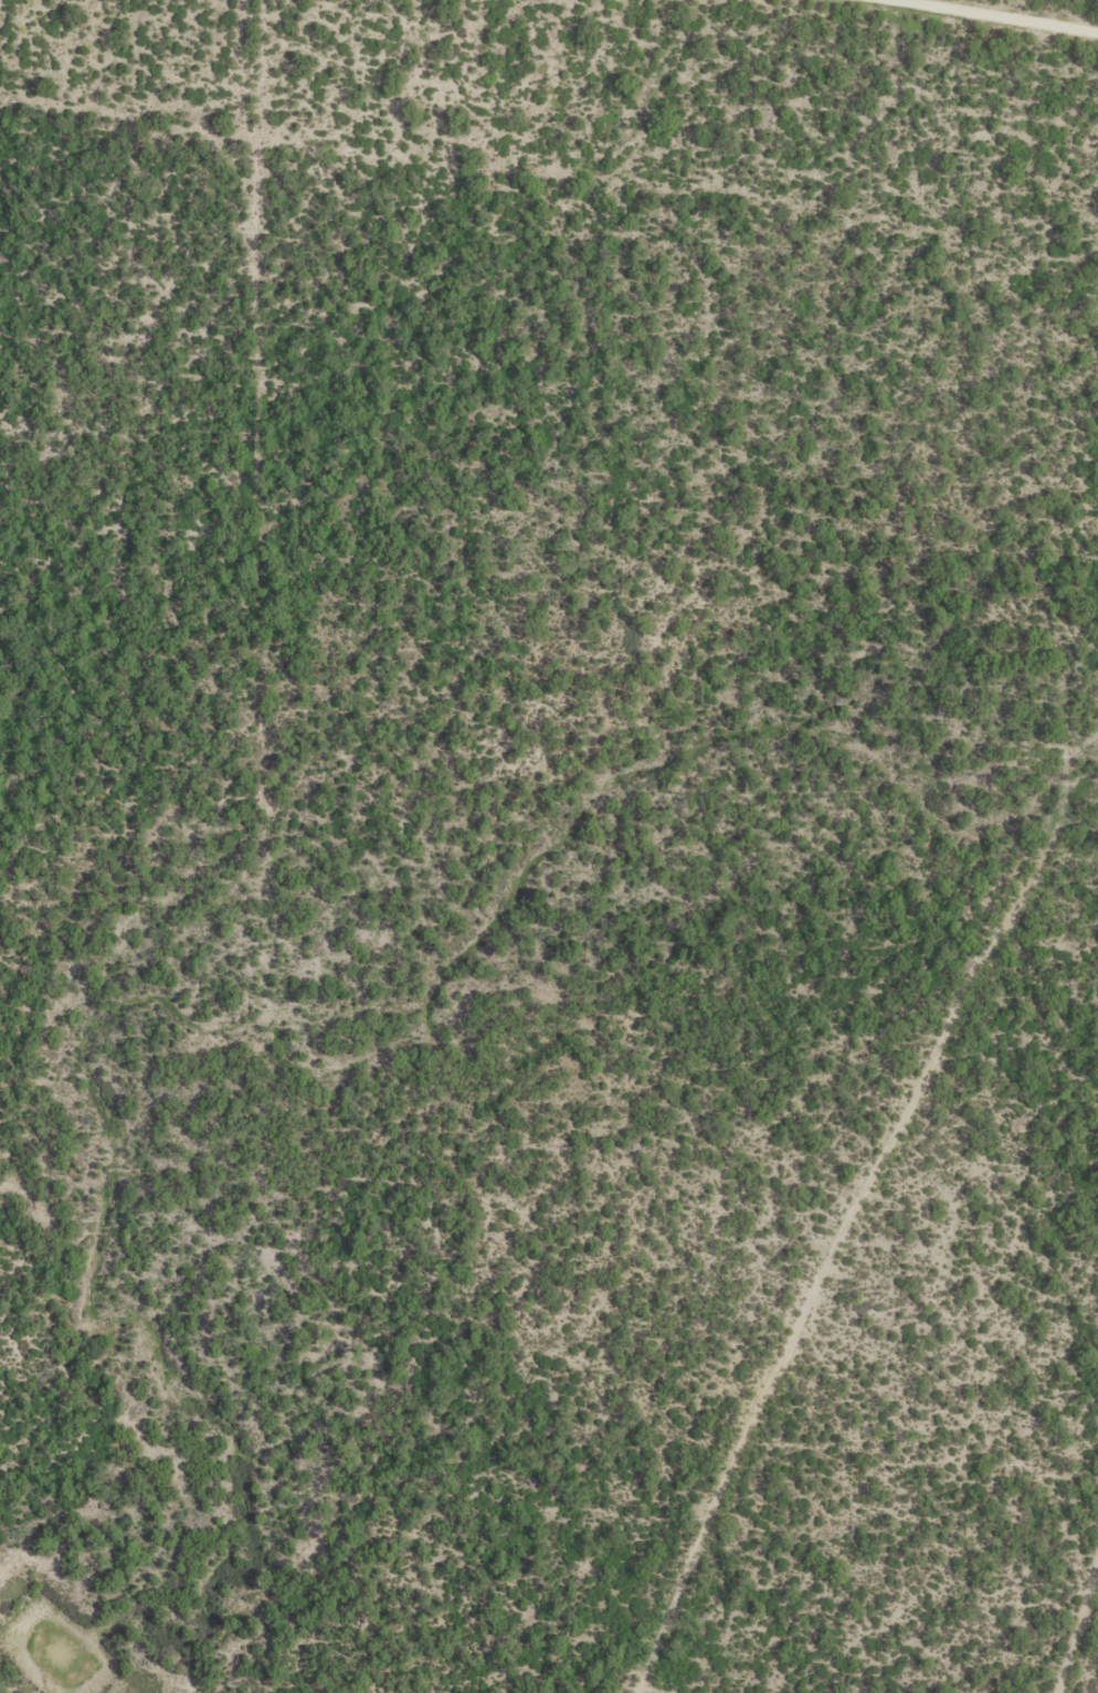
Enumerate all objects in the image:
road: (1000, 13)

